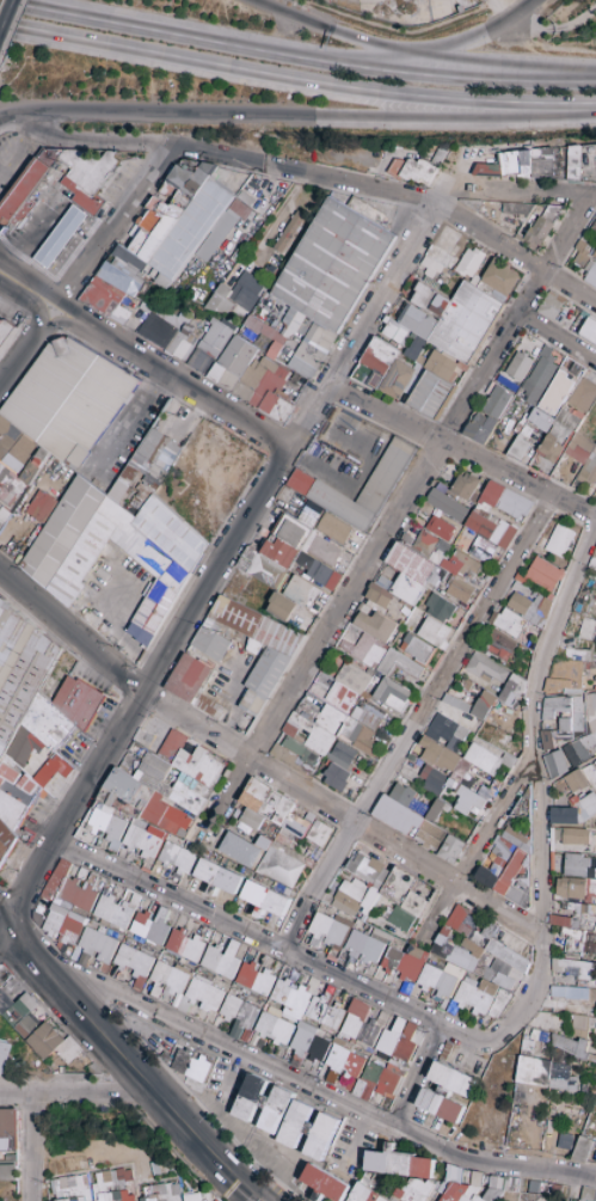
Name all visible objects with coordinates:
park: (0, 1)
gas station: (54, 231)

